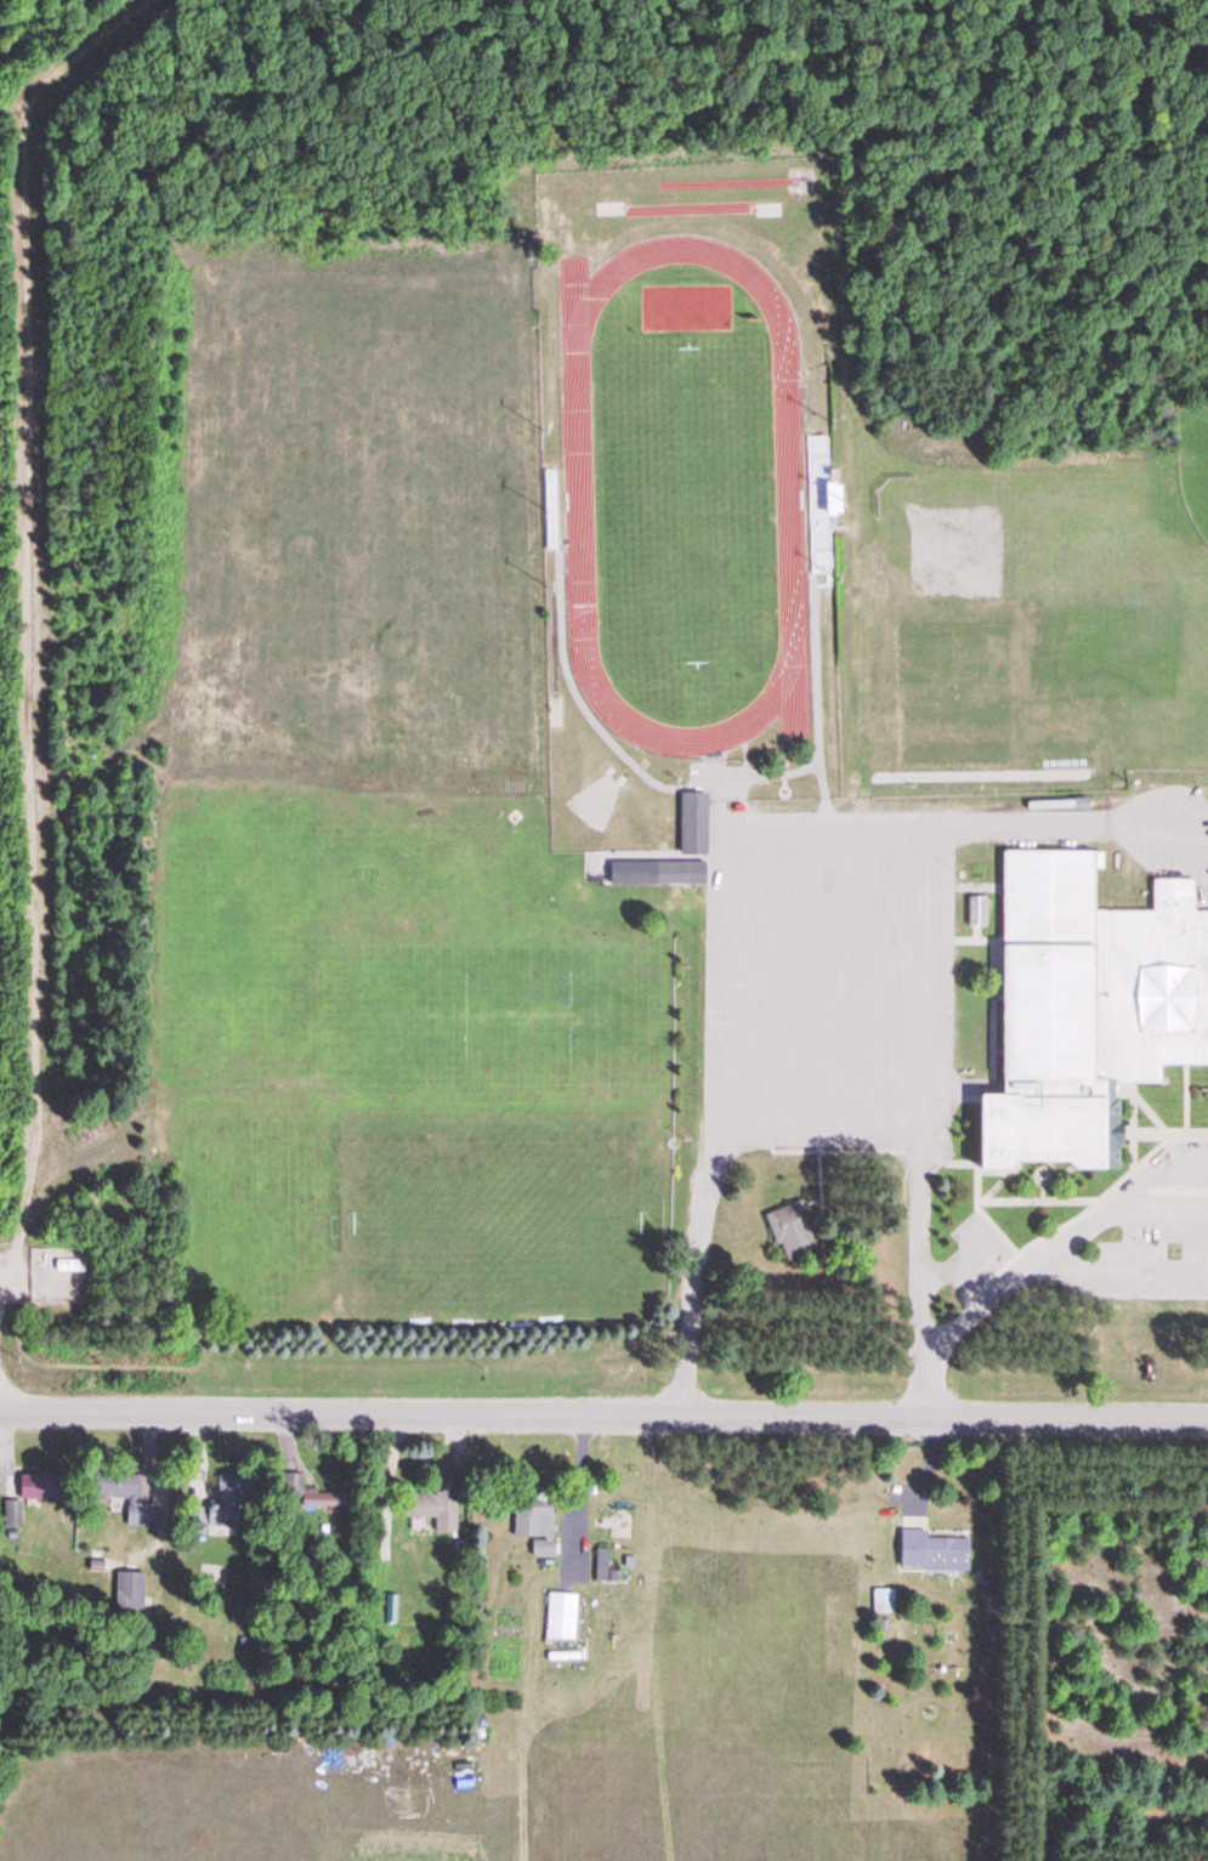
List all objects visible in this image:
park: (1196, 461)
track: (788, 500)
park: (690, 503)
building: (697, 825)
road: (946, 827)
building: (682, 873)
road: (829, 972)
road: (879, 972)
road: (923, 972)
road: (776, 974)
road: (731, 975)
parking lot: (828, 978)
road: (989, 985)
building: (1088, 1005)
road: (1185, 1100)
road: (1142, 1110)
road: (788, 1116)
road: (1132, 1131)
road: (1142, 1134)
road: (997, 1184)
road: (1036, 1201)
road: (1162, 1205)
park: (501, 1220)
road: (1060, 1227)
building: (796, 1231)
parking lot: (1157, 1250)
parking lot: (974, 1254)
road: (1032, 1264)
road: (1116, 1271)
road: (957, 1272)
road: (992, 1277)
road: (603, 1417)
building: (433, 1514)
building: (535, 1524)
building: (544, 1549)
building: (934, 1553)
building: (563, 1618)

